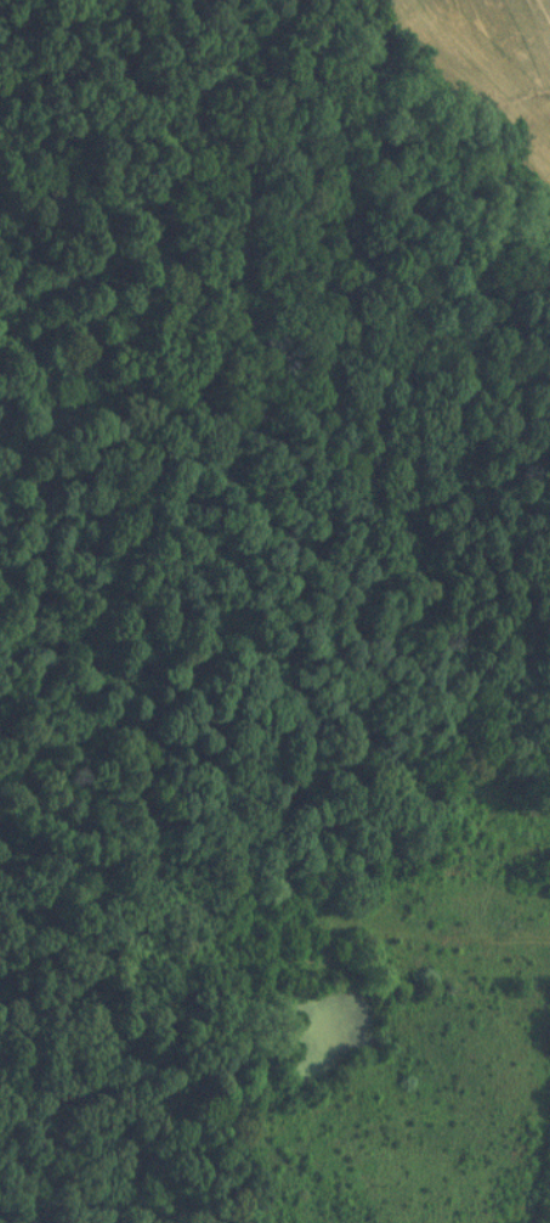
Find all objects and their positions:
building: (529, 877)
road: (499, 944)

